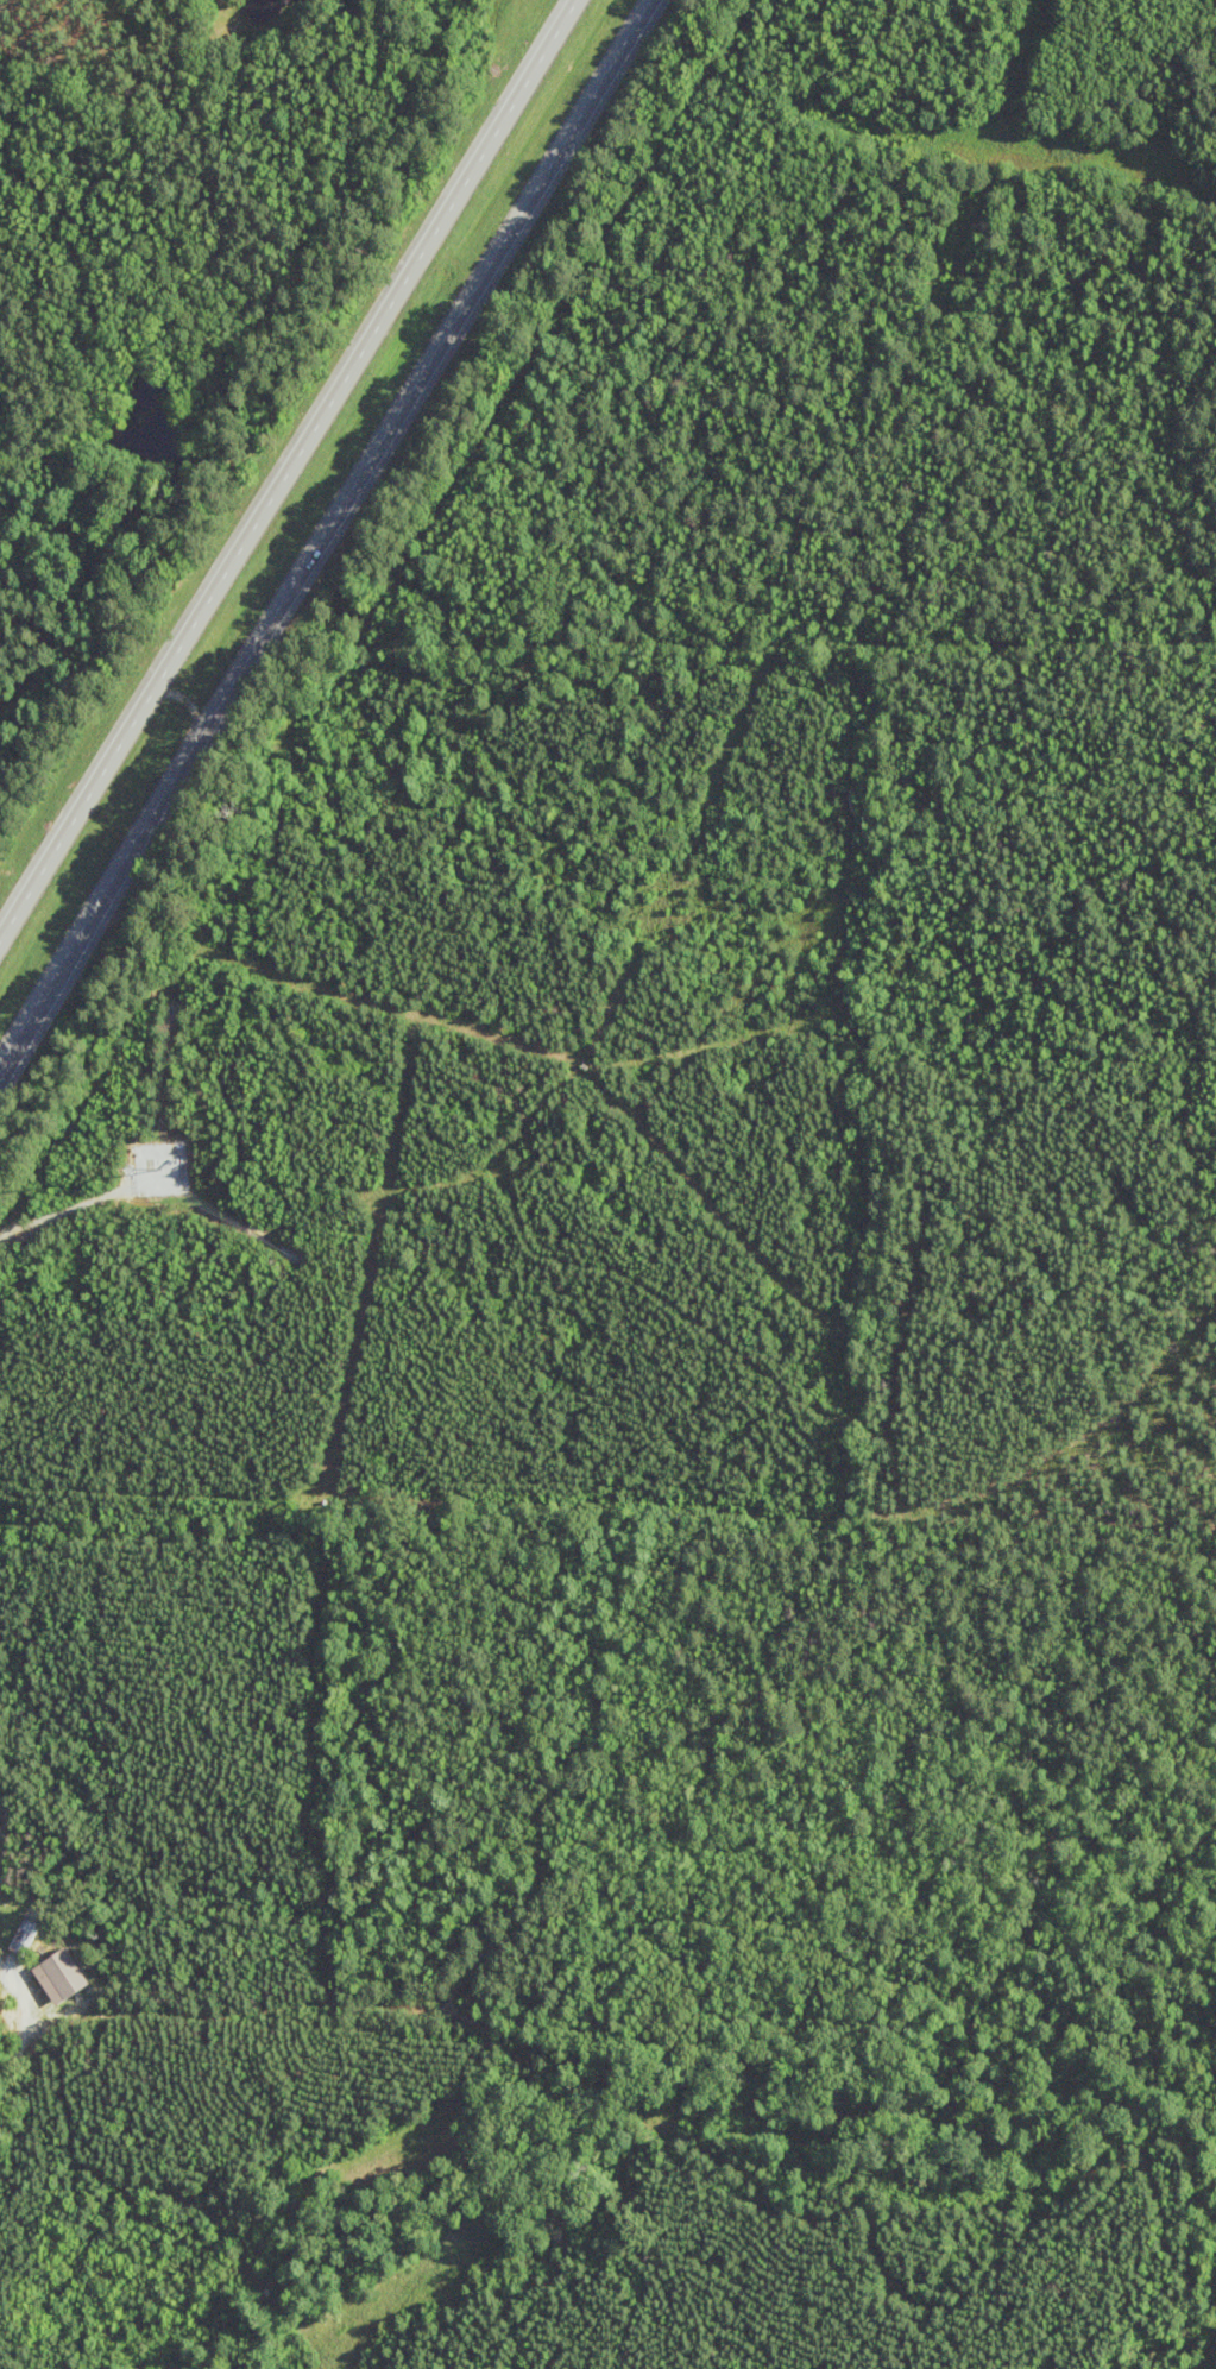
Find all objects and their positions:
building: (308, 1)
building: (267, 8)
road: (288, 470)
road: (325, 530)
building: (23, 1942)

